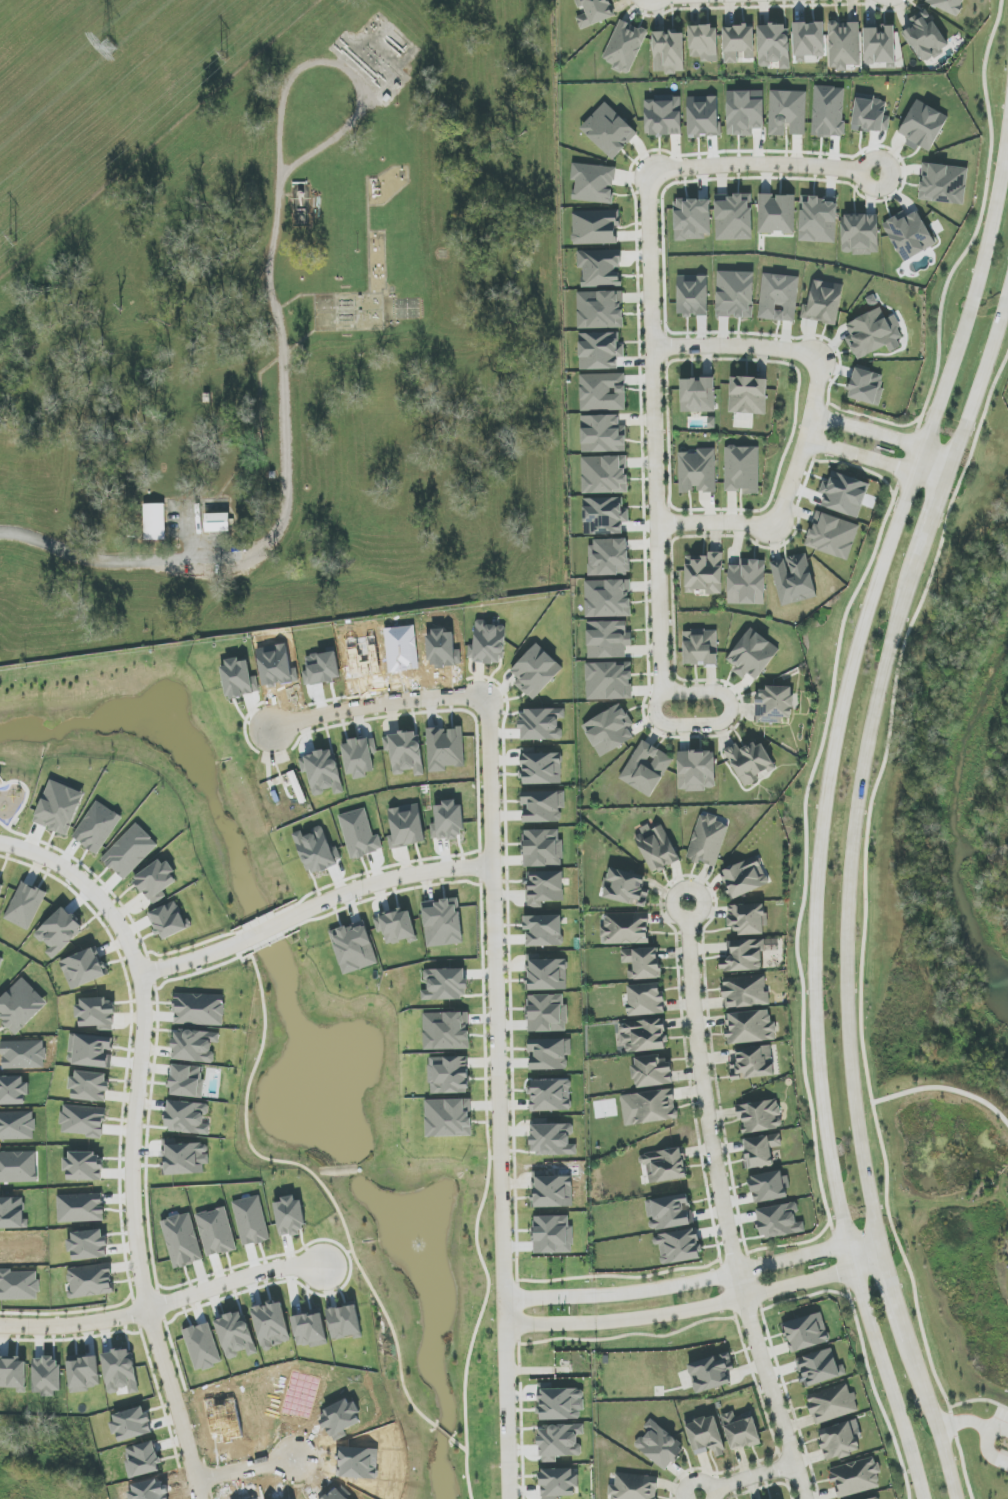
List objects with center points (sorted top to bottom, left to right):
road: (796, 5)
building: (948, 5)
building: (594, 12)
building: (925, 37)
building: (808, 40)
building: (704, 43)
building: (738, 43)
building: (774, 45)
building: (844, 45)
building: (880, 45)
power tower: (110, 47)
building: (625, 47)
building: (668, 52)
road: (59, 57)
power tower: (225, 57)
road: (295, 73)
building: (745, 112)
building: (787, 113)
building: (703, 115)
building: (664, 116)
building: (923, 126)
building: (609, 130)
road: (866, 163)
road: (755, 164)
building: (593, 183)
building: (944, 184)
building: (776, 214)
building: (734, 217)
building: (692, 219)
building: (818, 220)
building: (595, 227)
road: (978, 228)
building: (860, 234)
building: (909, 235)
power tower: (13, 240)
building: (600, 267)
building: (735, 294)
building: (693, 295)
building: (779, 297)
building: (824, 303)
building: (600, 310)
building: (873, 334)
road: (773, 348)
building: (600, 351)
road: (981, 383)
building: (866, 387)
building: (602, 392)
building: (698, 395)
building: (748, 395)
road: (871, 432)
road: (655, 433)
building: (603, 434)
road: (862, 456)
road: (938, 467)
building: (742, 469)
building: (697, 471)
building: (604, 474)
building: (844, 494)
road: (285, 505)
building: (604, 516)
road: (933, 521)
building: (154, 522)
building: (217, 522)
road: (769, 526)
building: (832, 535)
building: (609, 557)
building: (704, 573)
building: (794, 579)
building: (747, 582)
building: (608, 598)
building: (608, 639)
building: (488, 643)
building: (701, 648)
building: (752, 655)
building: (536, 671)
building: (609, 681)
road: (378, 704)
building: (774, 704)
road: (720, 722)
building: (541, 724)
building: (609, 730)
building: (445, 749)
building: (405, 752)
building: (360, 756)
building: (750, 762)
building: (541, 767)
building: (646, 768)
building: (696, 770)
building: (543, 806)
building: (59, 807)
road: (825, 815)
building: (448, 821)
building: (406, 826)
road: (804, 834)
building: (707, 840)
building: (657, 847)
building: (542, 848)
building: (316, 850)
building: (744, 878)
road: (394, 879)
building: (156, 881)
building: (1, 888)
building: (544, 888)
building: (625, 888)
road: (850, 902)
building: (25, 906)
road: (678, 914)
building: (747, 919)
road: (864, 920)
building: (169, 921)
building: (443, 923)
building: (396, 927)
building: (626, 928)
road: (270, 929)
building: (544, 930)
building: (60, 932)
building: (354, 947)
building: (743, 956)
road: (191, 961)
building: (1, 962)
building: (642, 963)
building: (84, 968)
building: (546, 974)
building: (445, 984)
building: (745, 991)
building: (645, 999)
building: (21, 1006)
building: (199, 1009)
building: (96, 1013)
building: (547, 1013)
building: (750, 1027)
building: (446, 1031)
building: (643, 1035)
building: (194, 1046)
building: (91, 1050)
building: (549, 1054)
building: (753, 1063)
building: (652, 1071)
building: (449, 1075)
building: (187, 1081)
building: (90, 1086)
road: (943, 1089)
building: (550, 1095)
road: (499, 1096)
building: (649, 1107)
road: (893, 1111)
building: (760, 1116)
building: (187, 1118)
building: (449, 1118)
road: (134, 1139)
building: (552, 1139)
building: (760, 1150)
building: (184, 1158)
building: (84, 1166)
building: (664, 1166)
building: (769, 1187)
building: (551, 1191)
road: (919, 1200)
building: (81, 1208)
building: (669, 1212)
road: (725, 1212)
building: (289, 1216)
building: (251, 1221)
building: (779, 1221)
building: (216, 1232)
building: (552, 1234)
building: (182, 1240)
building: (88, 1245)
building: (679, 1247)
park: (957, 1265)
building: (90, 1281)
road: (693, 1281)
road: (893, 1294)
road: (164, 1305)
road: (696, 1308)
building: (344, 1322)
building: (309, 1328)
building: (806, 1332)
building: (236, 1335)
building: (817, 1368)
building: (121, 1371)
building: (711, 1373)
building: (13, 1374)
road: (978, 1401)
building: (832, 1404)
parking lot: (1003, 1414)
road: (963, 1422)
road: (935, 1423)
building: (740, 1430)
building: (705, 1436)
building: (838, 1441)
road: (986, 1441)
building: (559, 1442)
building: (659, 1446)
road: (246, 1470)
road: (754, 1476)
building: (856, 1477)
road: (699, 1481)
building: (558, 1483)
building: (634, 1487)
building: (874, 1498)

